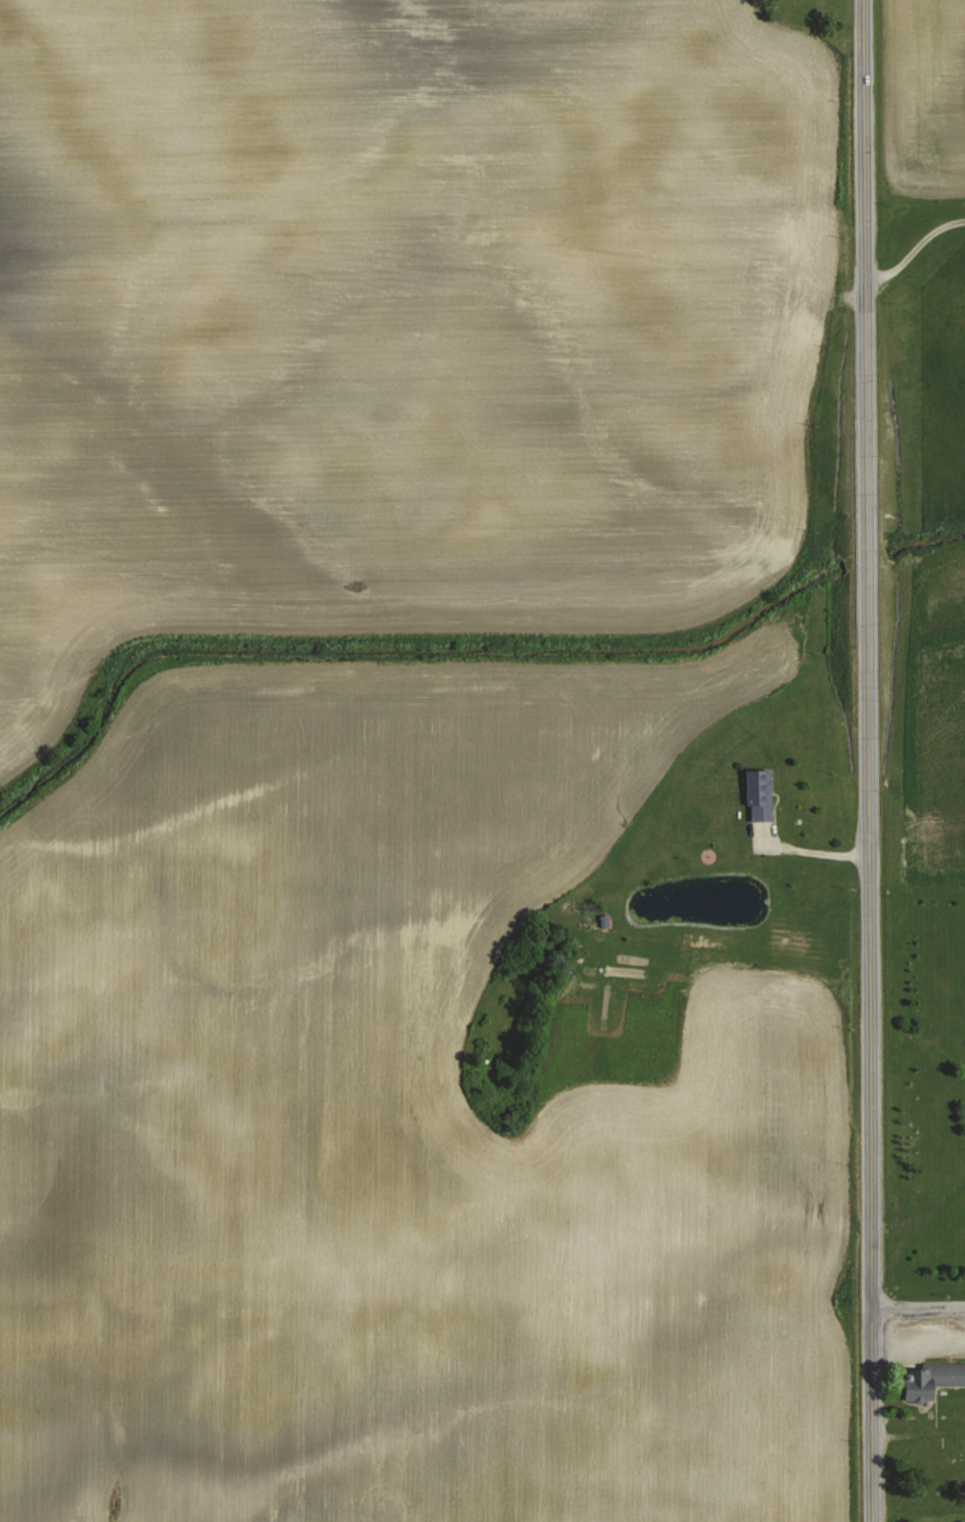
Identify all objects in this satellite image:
road: (915, 245)
road: (871, 760)
building: (760, 794)
road: (918, 1301)
building: (931, 1379)

